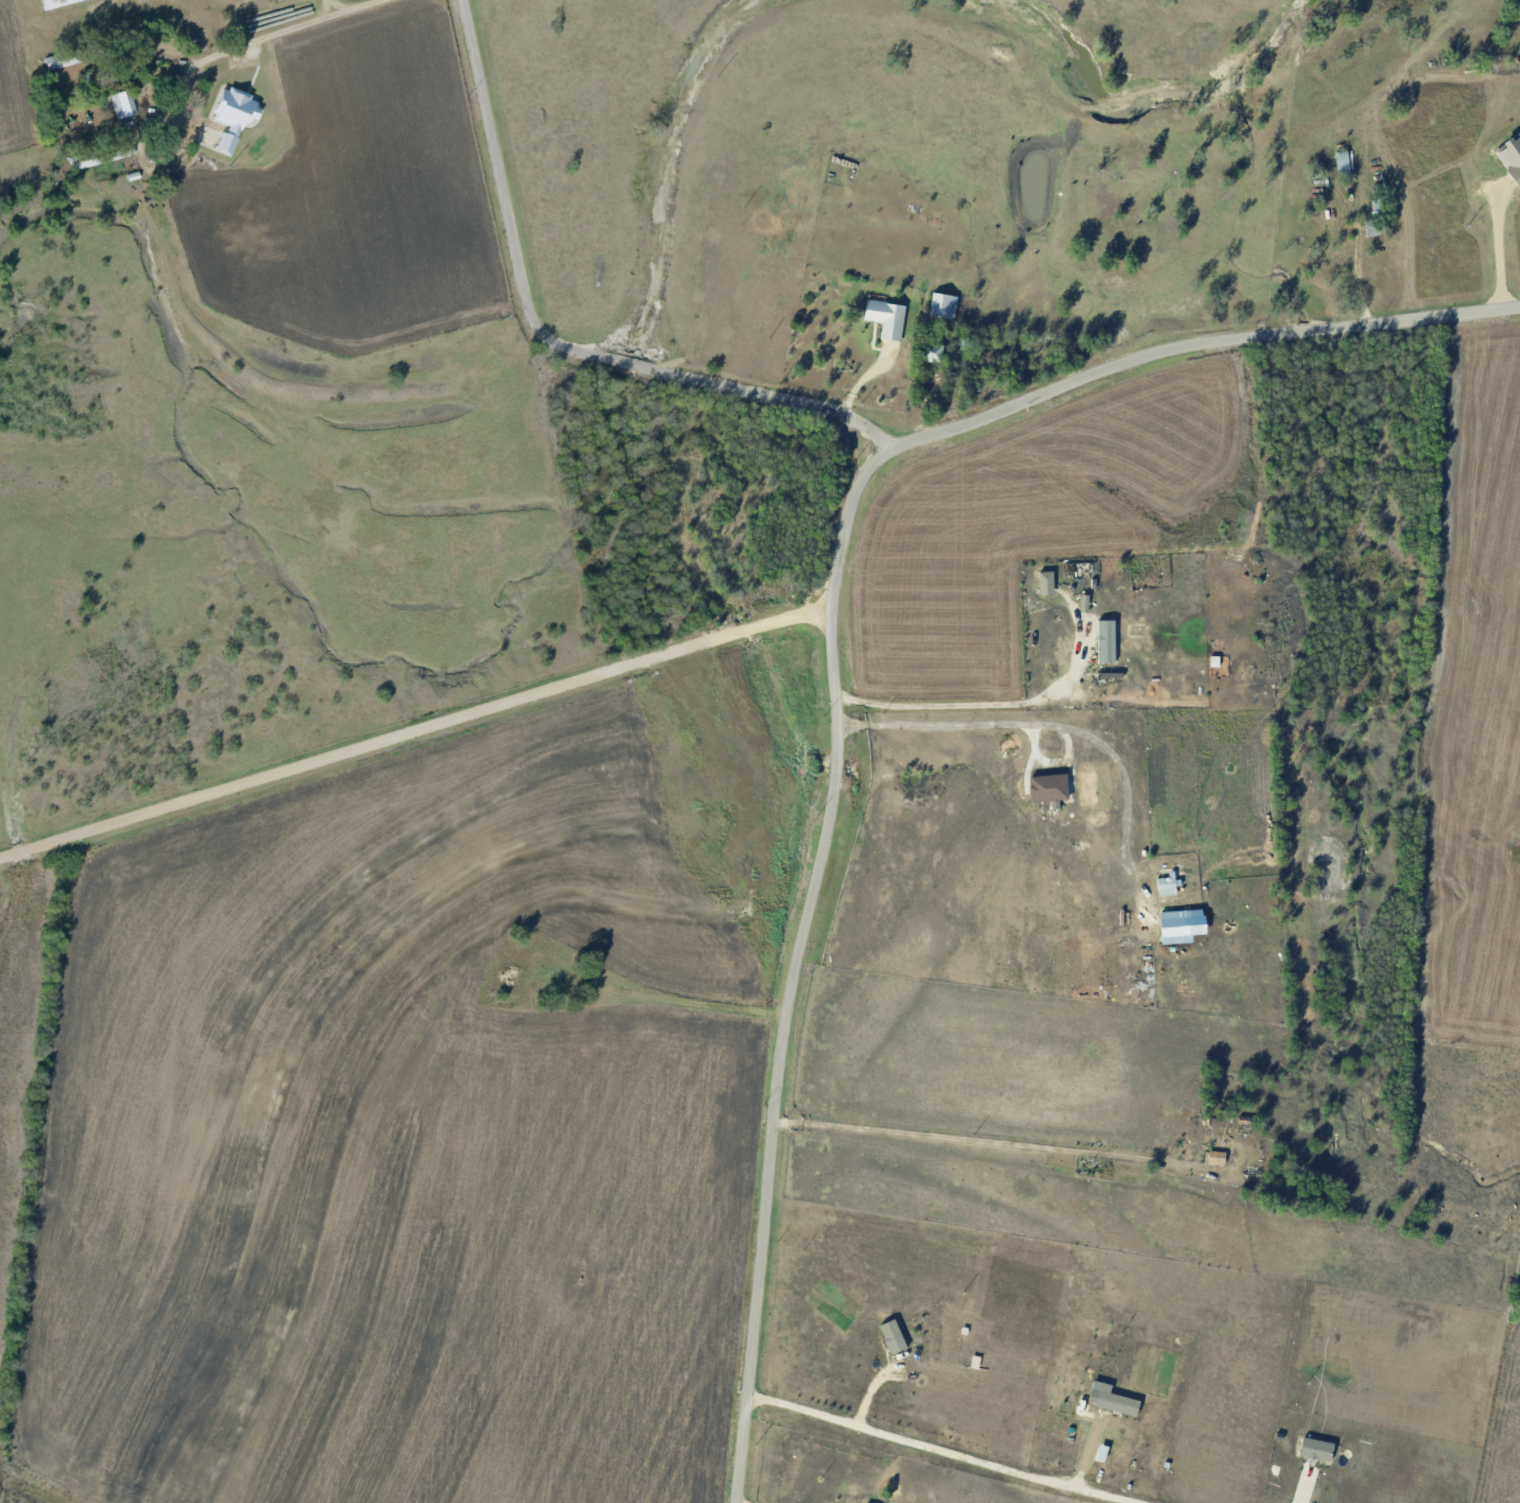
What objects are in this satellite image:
building: (49, 1)
road: (256, 39)
building: (50, 63)
building: (121, 105)
building: (232, 118)
building: (113, 153)
building: (1343, 161)
road: (1497, 244)
building: (943, 305)
building: (887, 318)
road: (555, 343)
building: (1047, 583)
building: (1107, 641)
road: (836, 649)
road: (976, 703)
road: (1057, 726)
road: (417, 730)
building: (1050, 788)
road: (981, 1140)
building: (1216, 1158)
building: (894, 1336)
building: (1119, 1403)
building: (1318, 1449)
building: (1103, 1452)
road: (919, 1456)
road: (1303, 1496)

